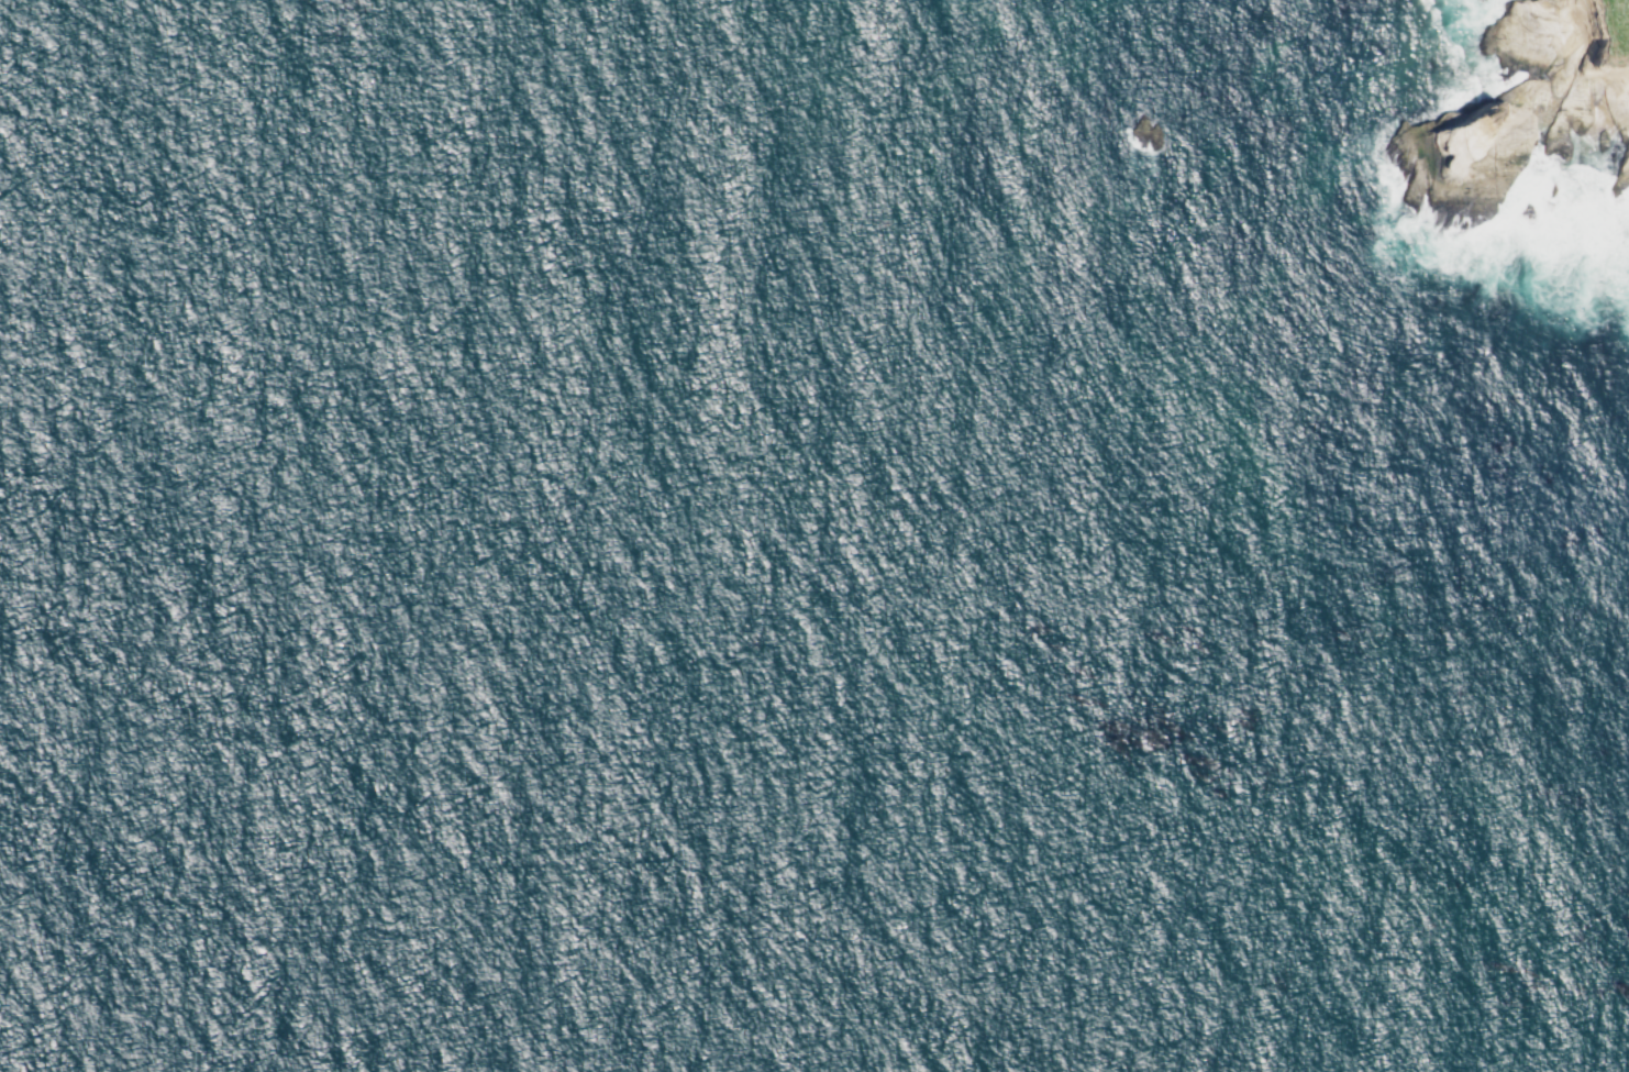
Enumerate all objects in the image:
park: (1617, 25)

